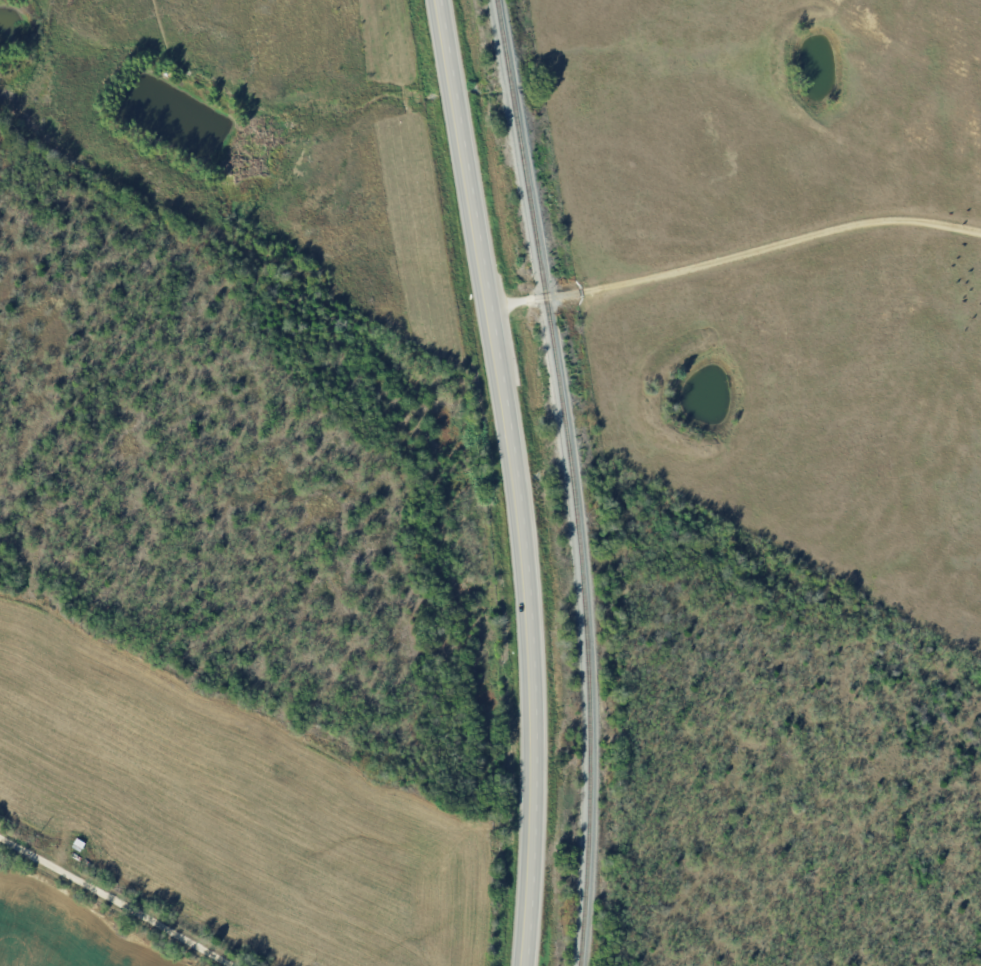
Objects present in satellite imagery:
road: (736, 255)
road: (517, 480)
railway: (577, 480)
road: (116, 900)

